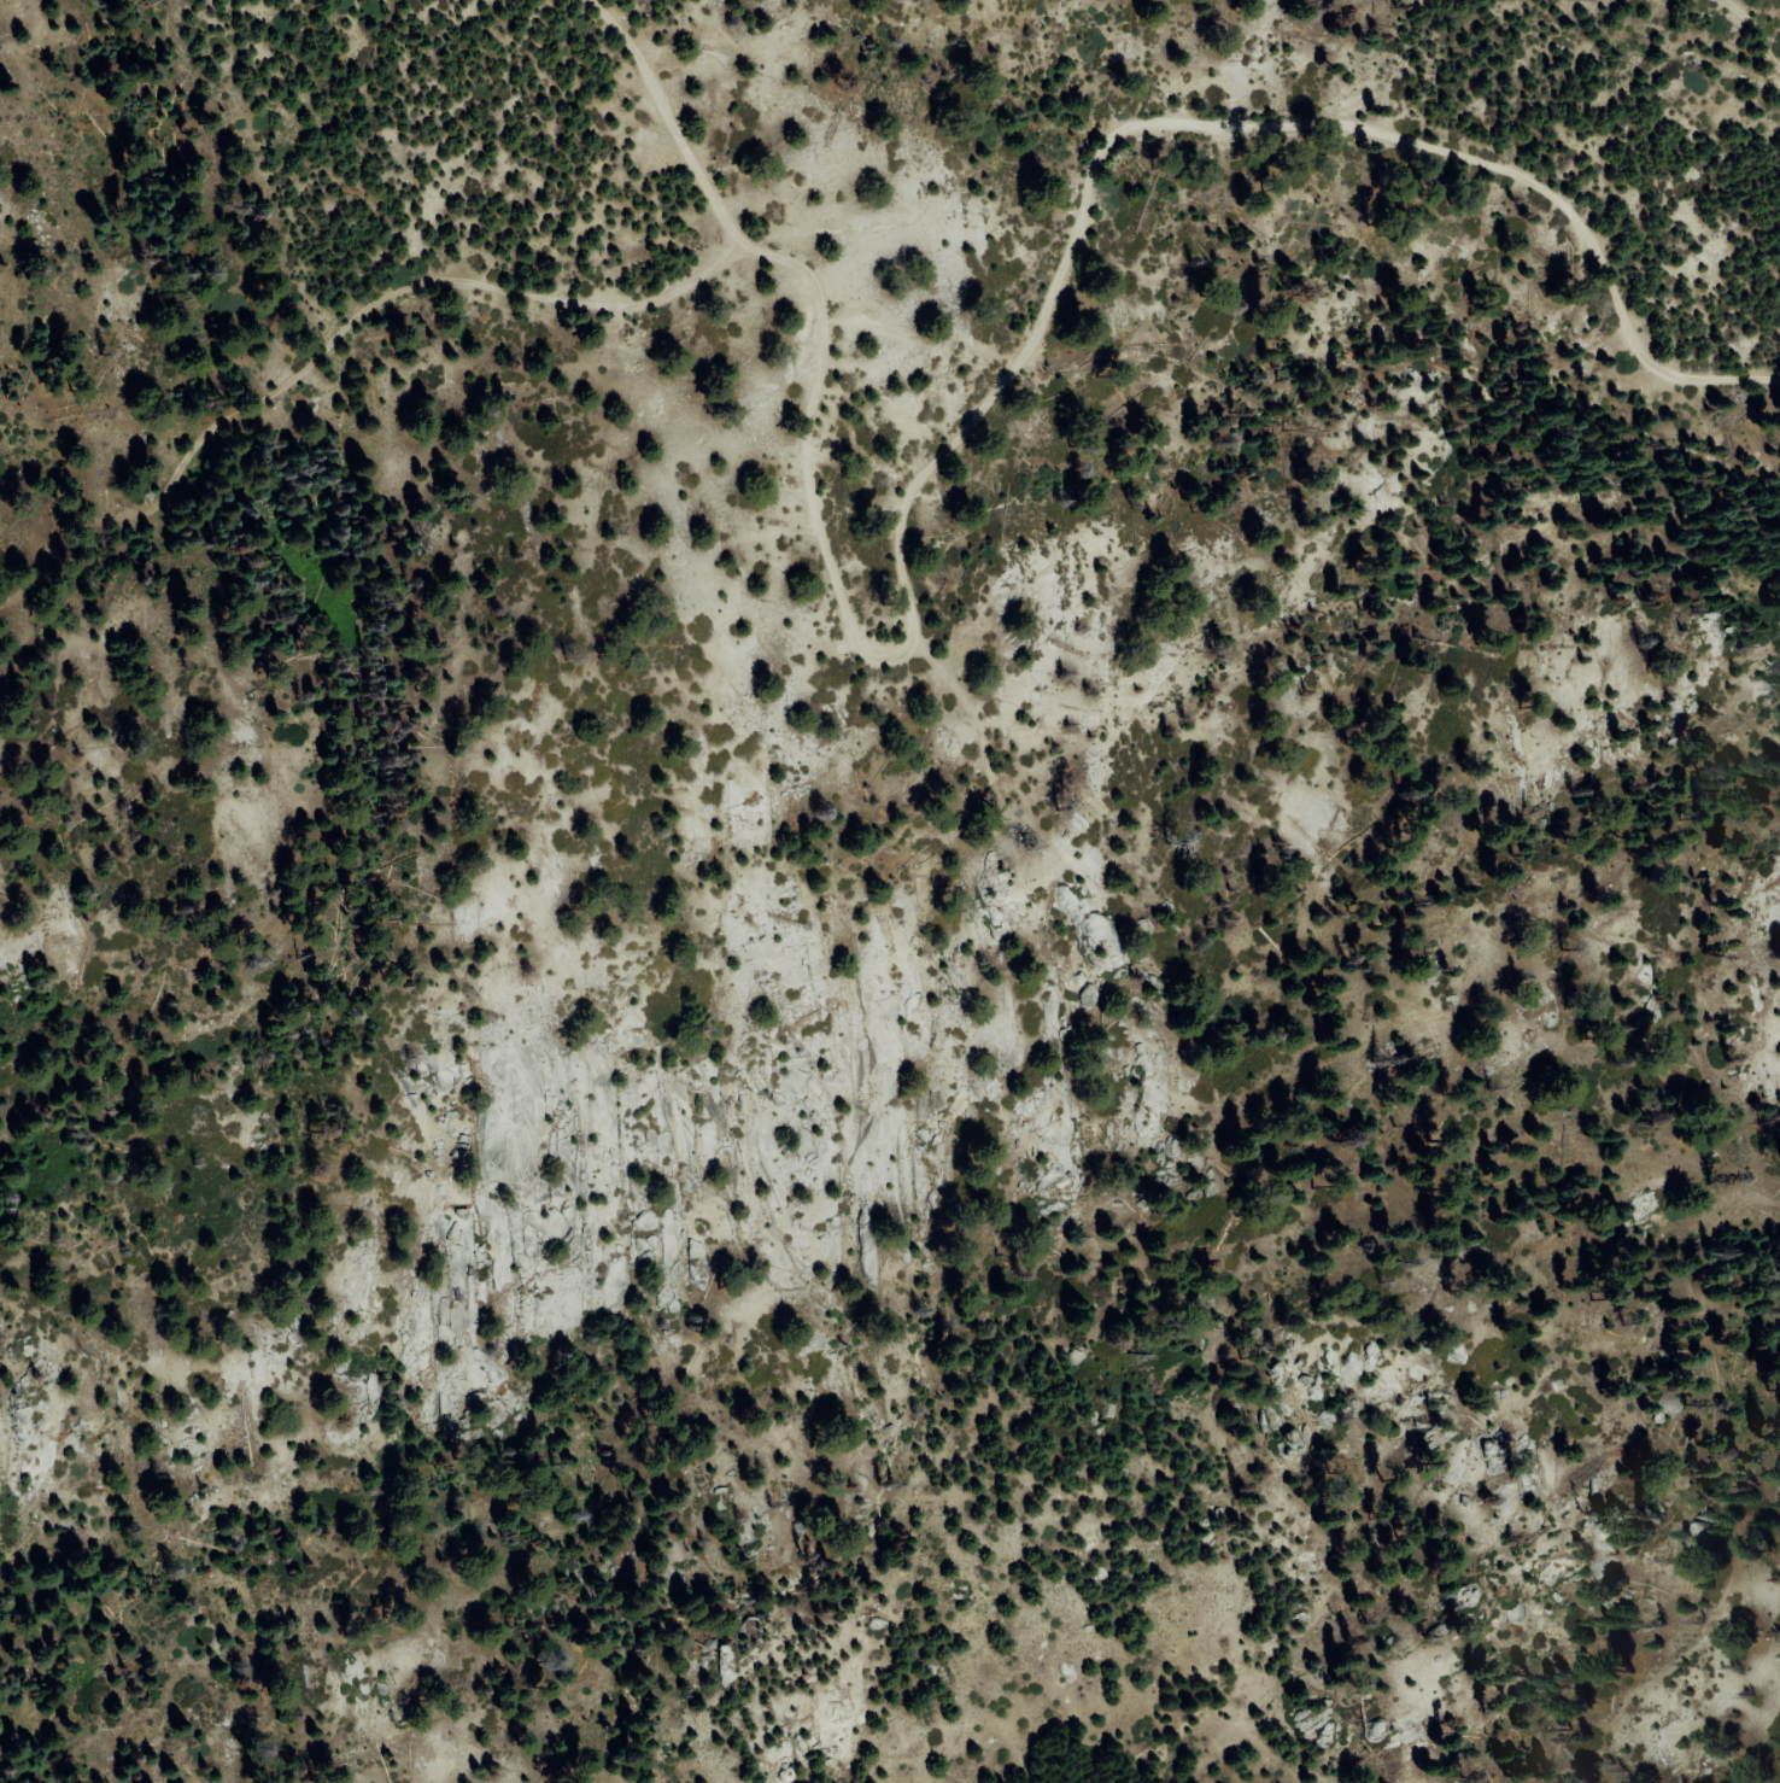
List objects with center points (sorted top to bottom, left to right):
road: (1755, 29)
building: (1109, 322)
road: (345, 352)
road: (985, 407)

